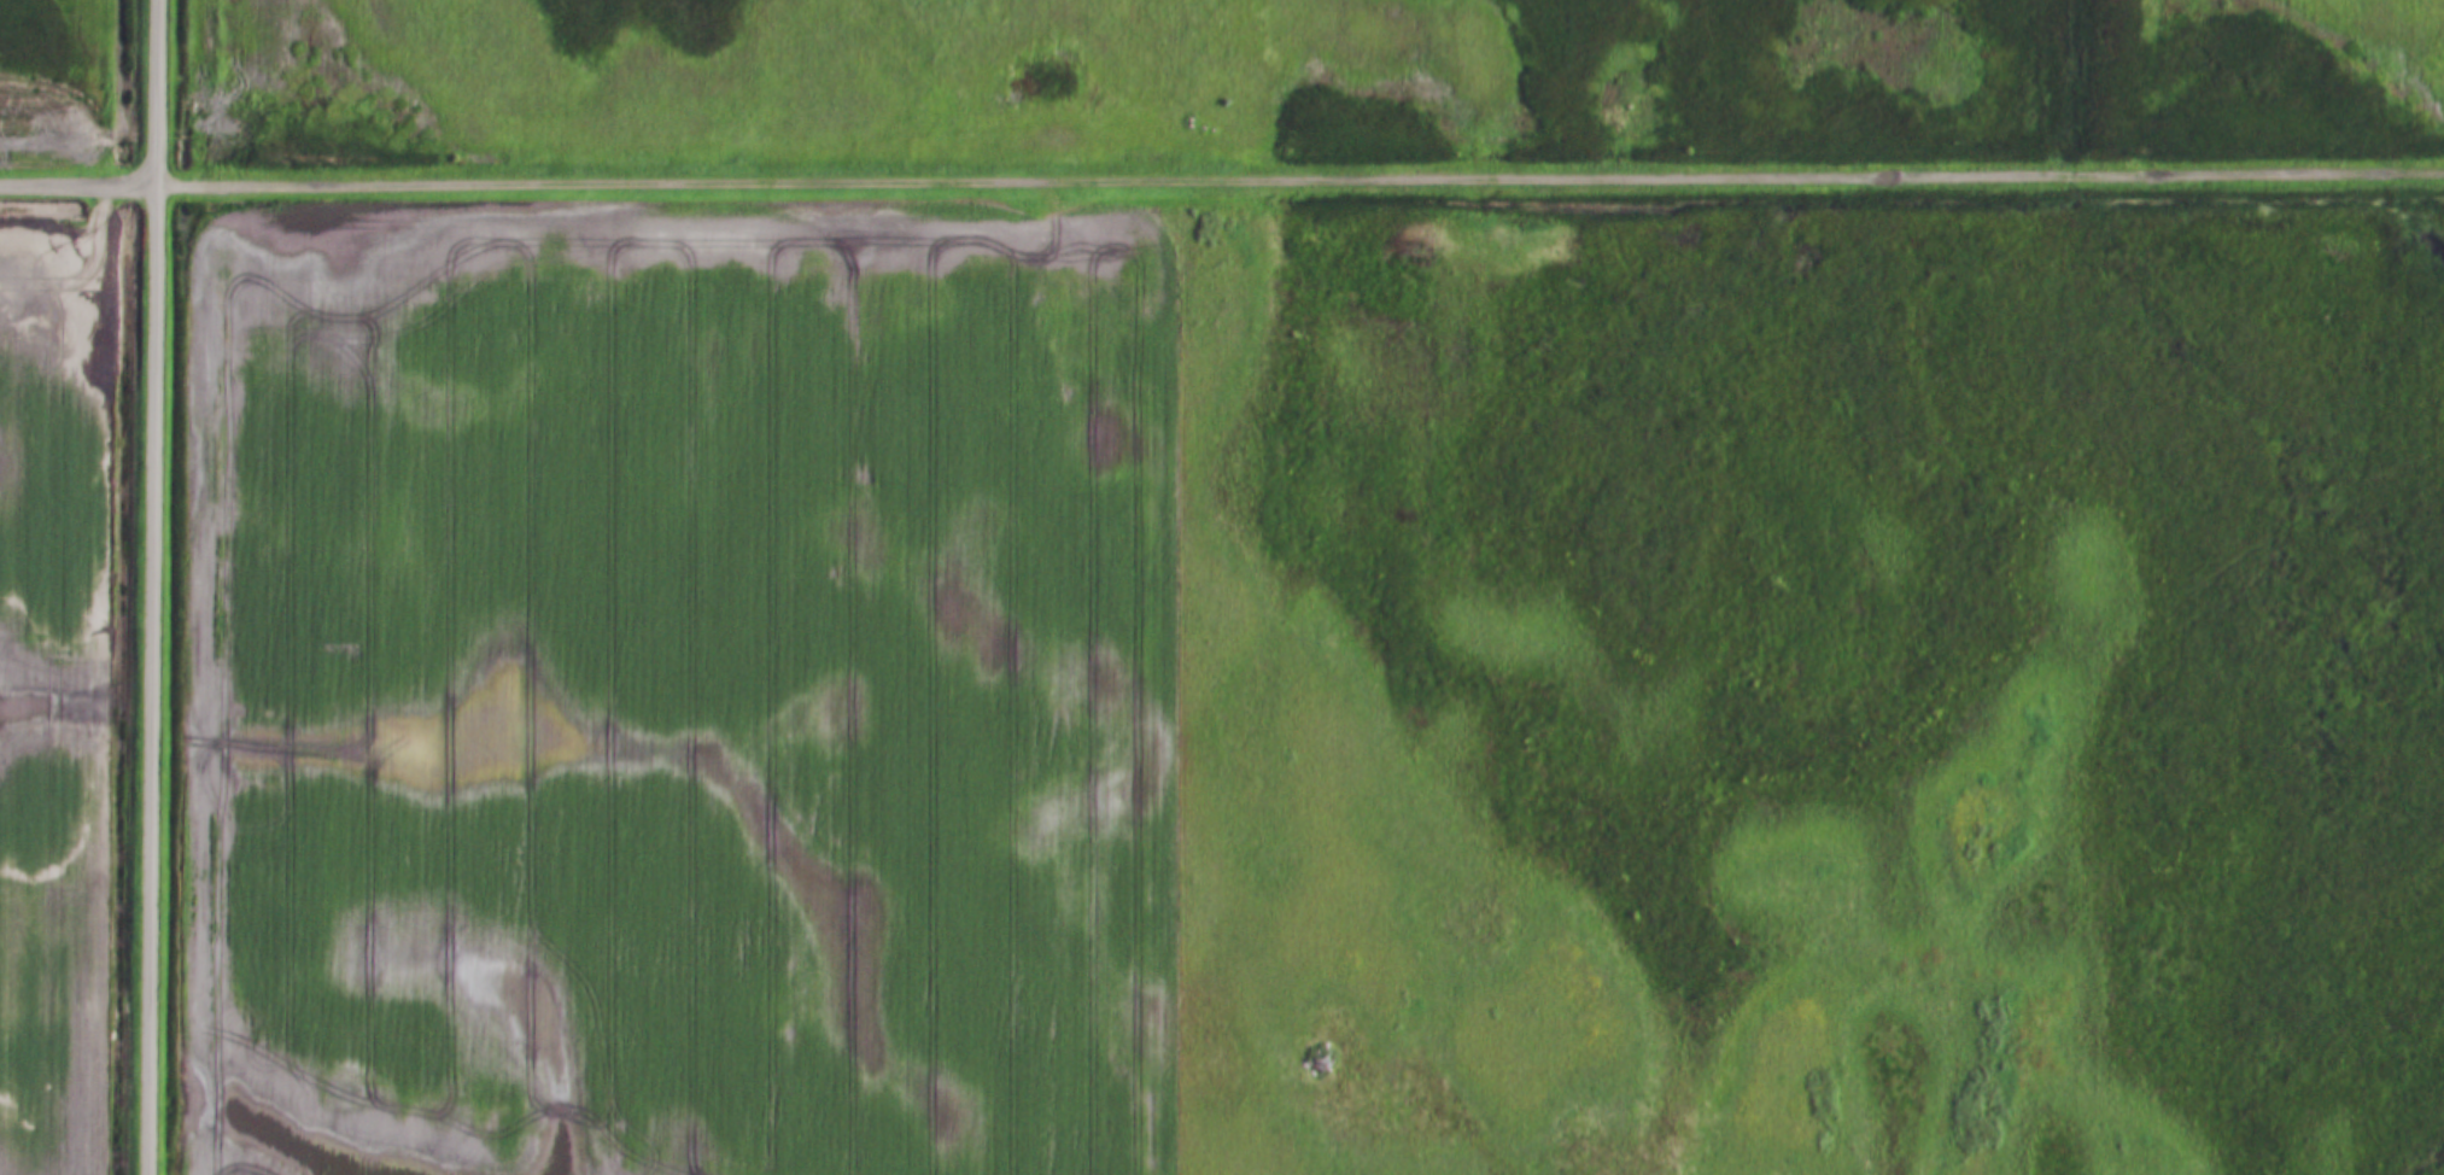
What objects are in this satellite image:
road: (1303, 180)
road: (81, 186)
road: (158, 586)

